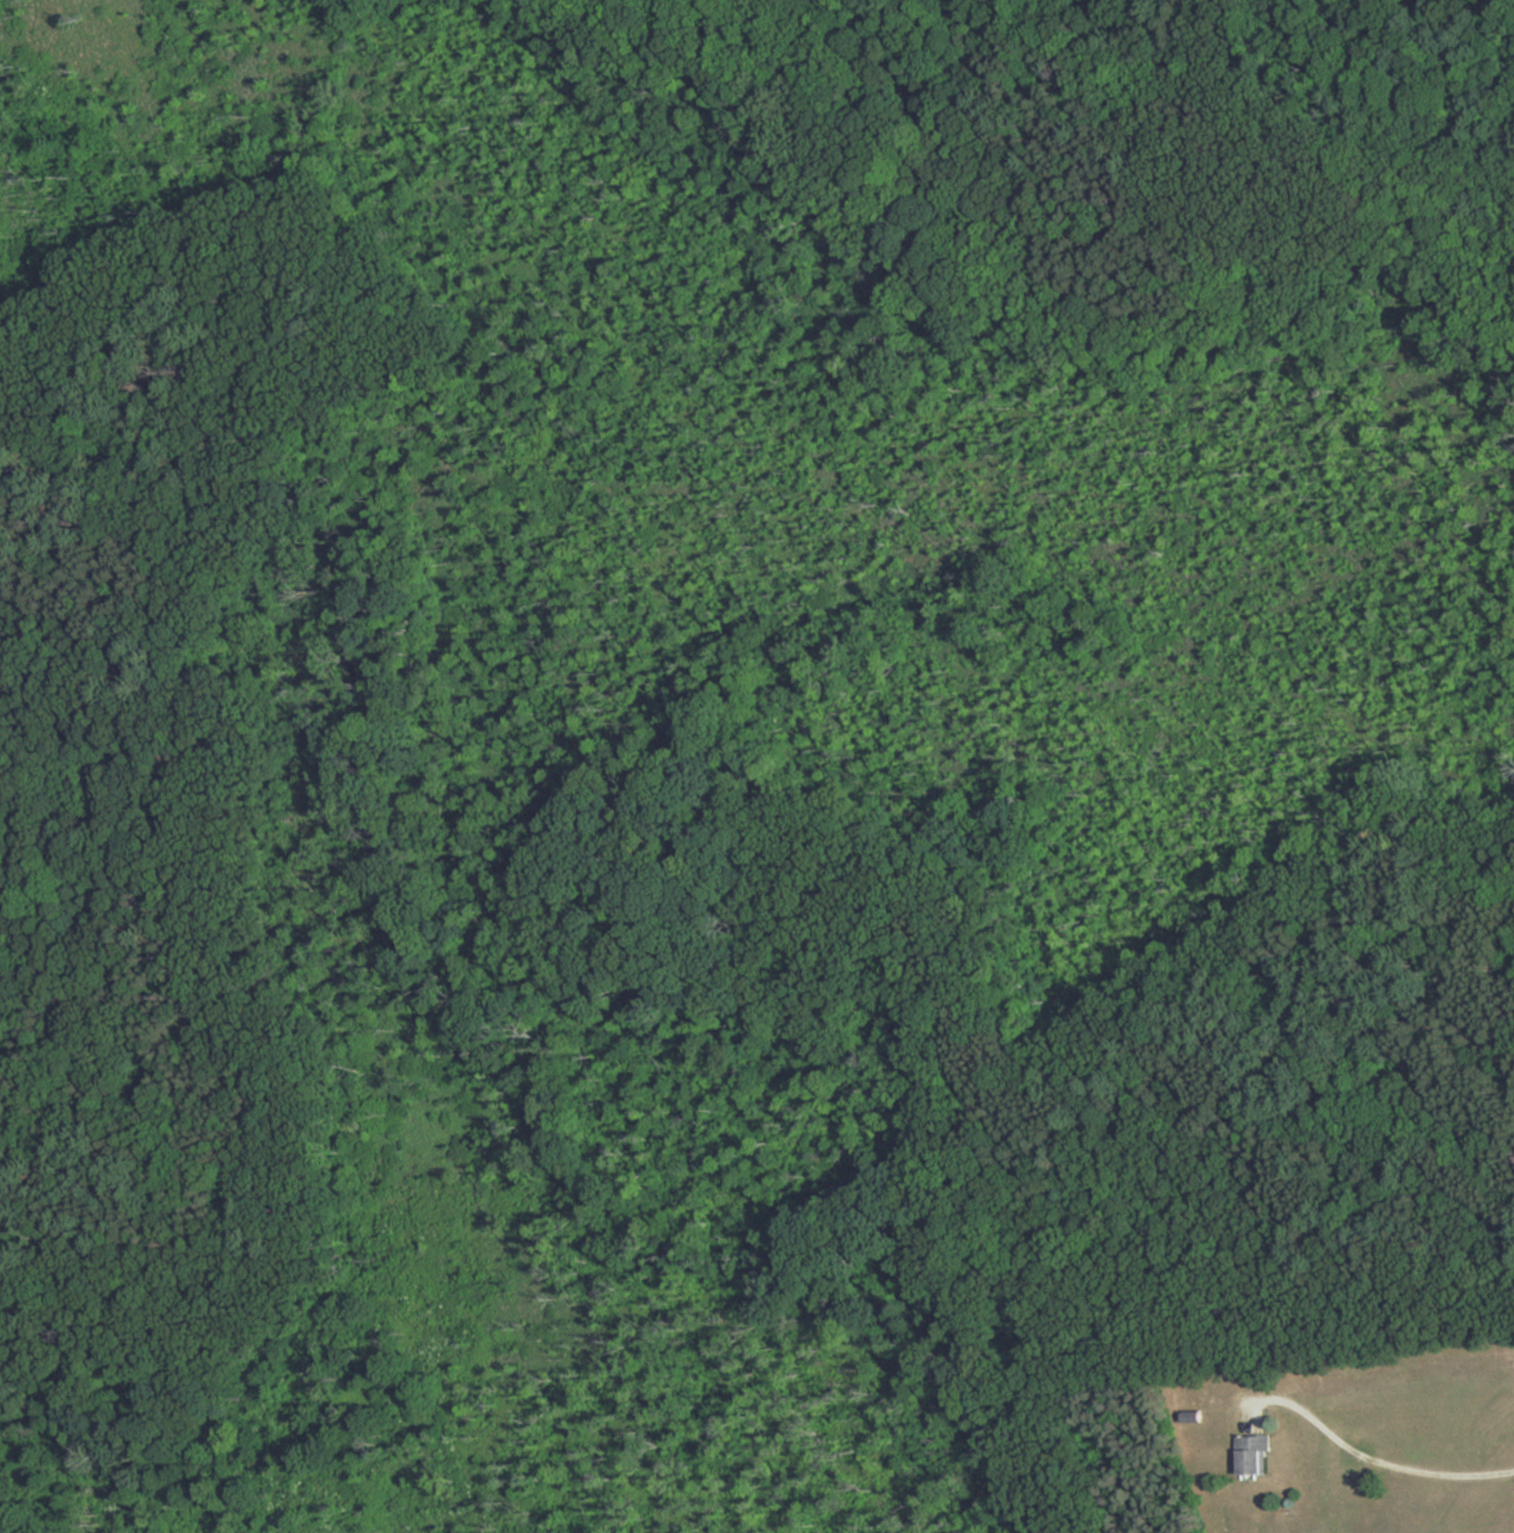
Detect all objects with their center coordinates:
road: (1263, 178)
road: (1191, 208)
park: (732, 727)
road: (1366, 1449)
building: (1253, 1454)

